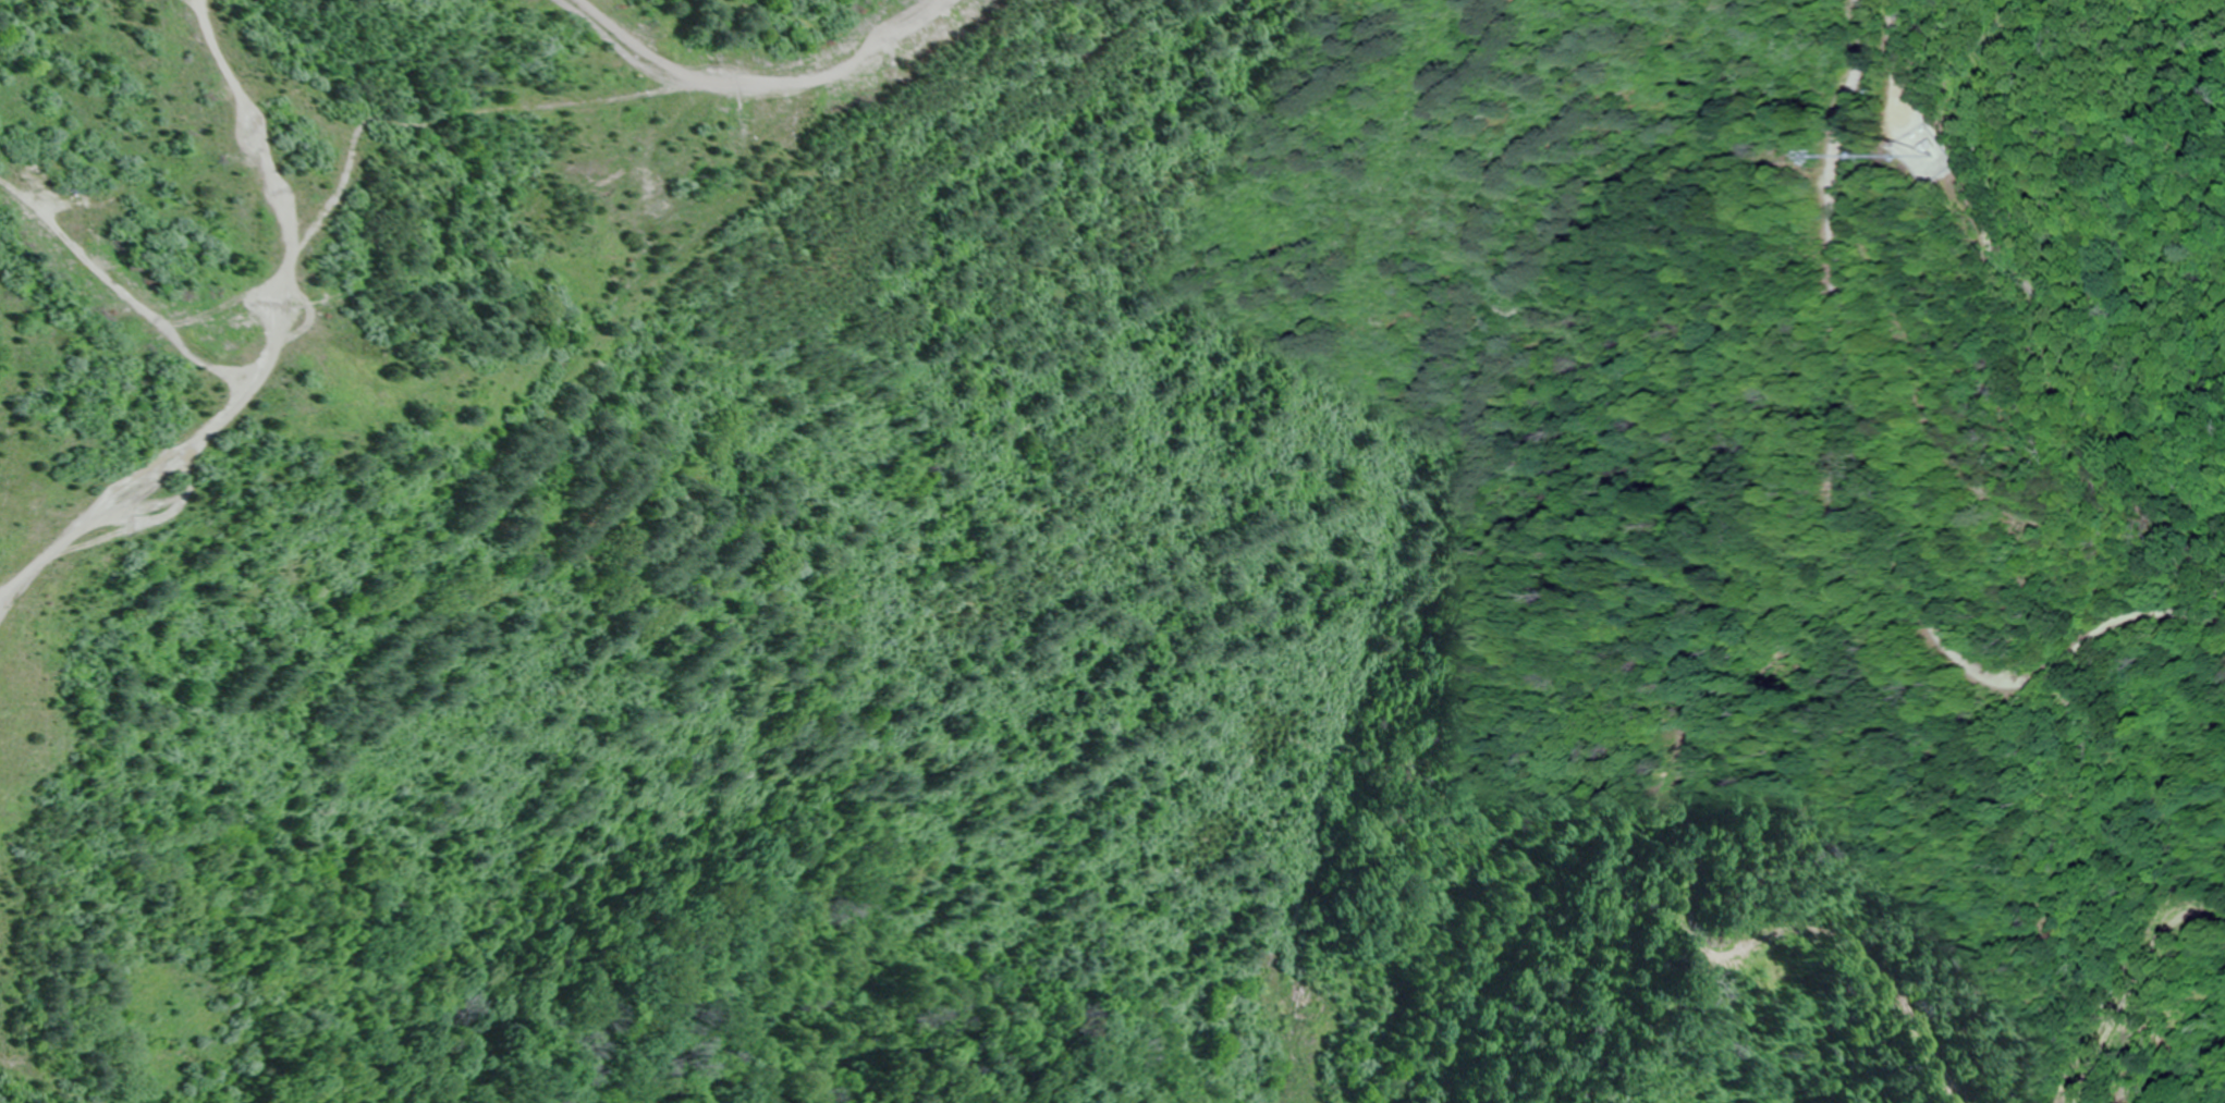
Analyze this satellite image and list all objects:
road: (2210, 22)

